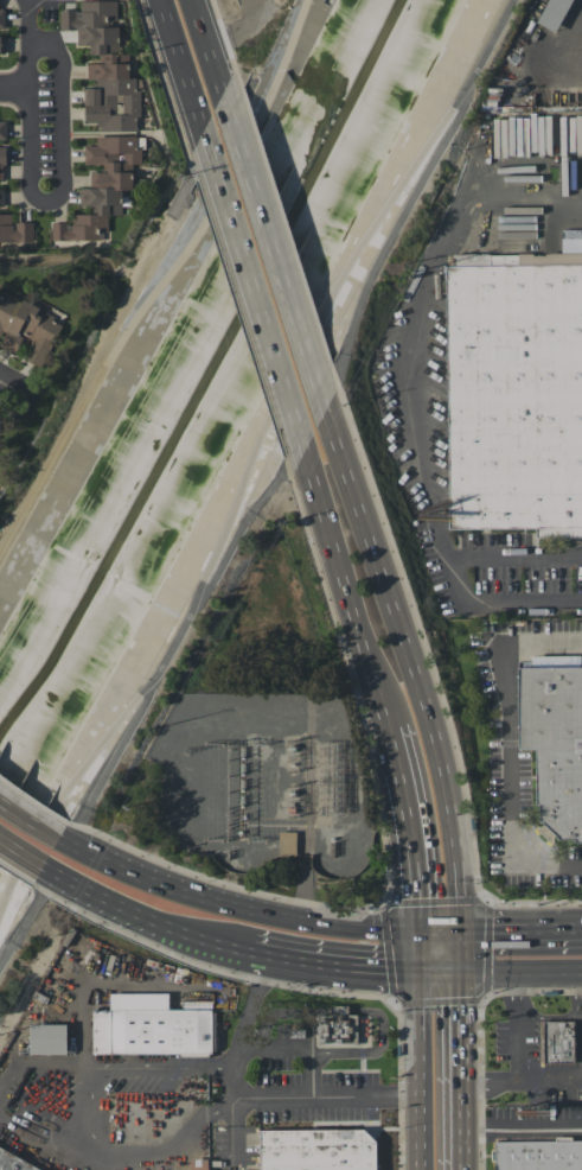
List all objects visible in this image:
building: (0, 11)
building: (552, 13)
road: (248, 38)
road: (569, 39)
building: (1, 44)
road: (210, 46)
road: (183, 63)
building: (103, 66)
road: (15, 89)
road: (31, 93)
road: (63, 123)
building: (2, 129)
building: (1, 163)
building: (101, 186)
building: (1, 197)
building: (14, 229)
road: (159, 231)
road: (386, 249)
road: (276, 253)
road: (27, 257)
road: (435, 260)
road: (153, 279)
road: (255, 292)
building: (26, 328)
river: (202, 370)
road: (8, 390)
building: (514, 396)
road: (252, 466)
road: (243, 527)
road: (532, 557)
road: (462, 559)
road: (448, 573)
road: (347, 592)
road: (415, 668)
road: (507, 743)
building: (554, 743)
road: (397, 750)
road: (114, 762)
road: (28, 819)
building: (287, 842)
road: (21, 852)
road: (417, 852)
road: (100, 896)
road: (255, 909)
road: (26, 920)
traffic signals: (423, 933)
traffic signals: (463, 933)
road: (523, 933)
road: (194, 940)
road: (423, 953)
road: (463, 953)
road: (328, 969)
road: (523, 971)
traffic signals: (424, 973)
road: (445, 973)
traffic signals: (465, 973)
building: (149, 1026)
road: (518, 1028)
building: (340, 1030)
building: (49, 1038)
building: (558, 1041)
road: (300, 1050)
road: (424, 1072)
road: (465, 1072)
road: (523, 1083)
road: (258, 1099)
road: (85, 1113)
road: (523, 1127)
building: (318, 1150)
building: (538, 1155)
building: (14, 1162)
building: (198, 1164)

